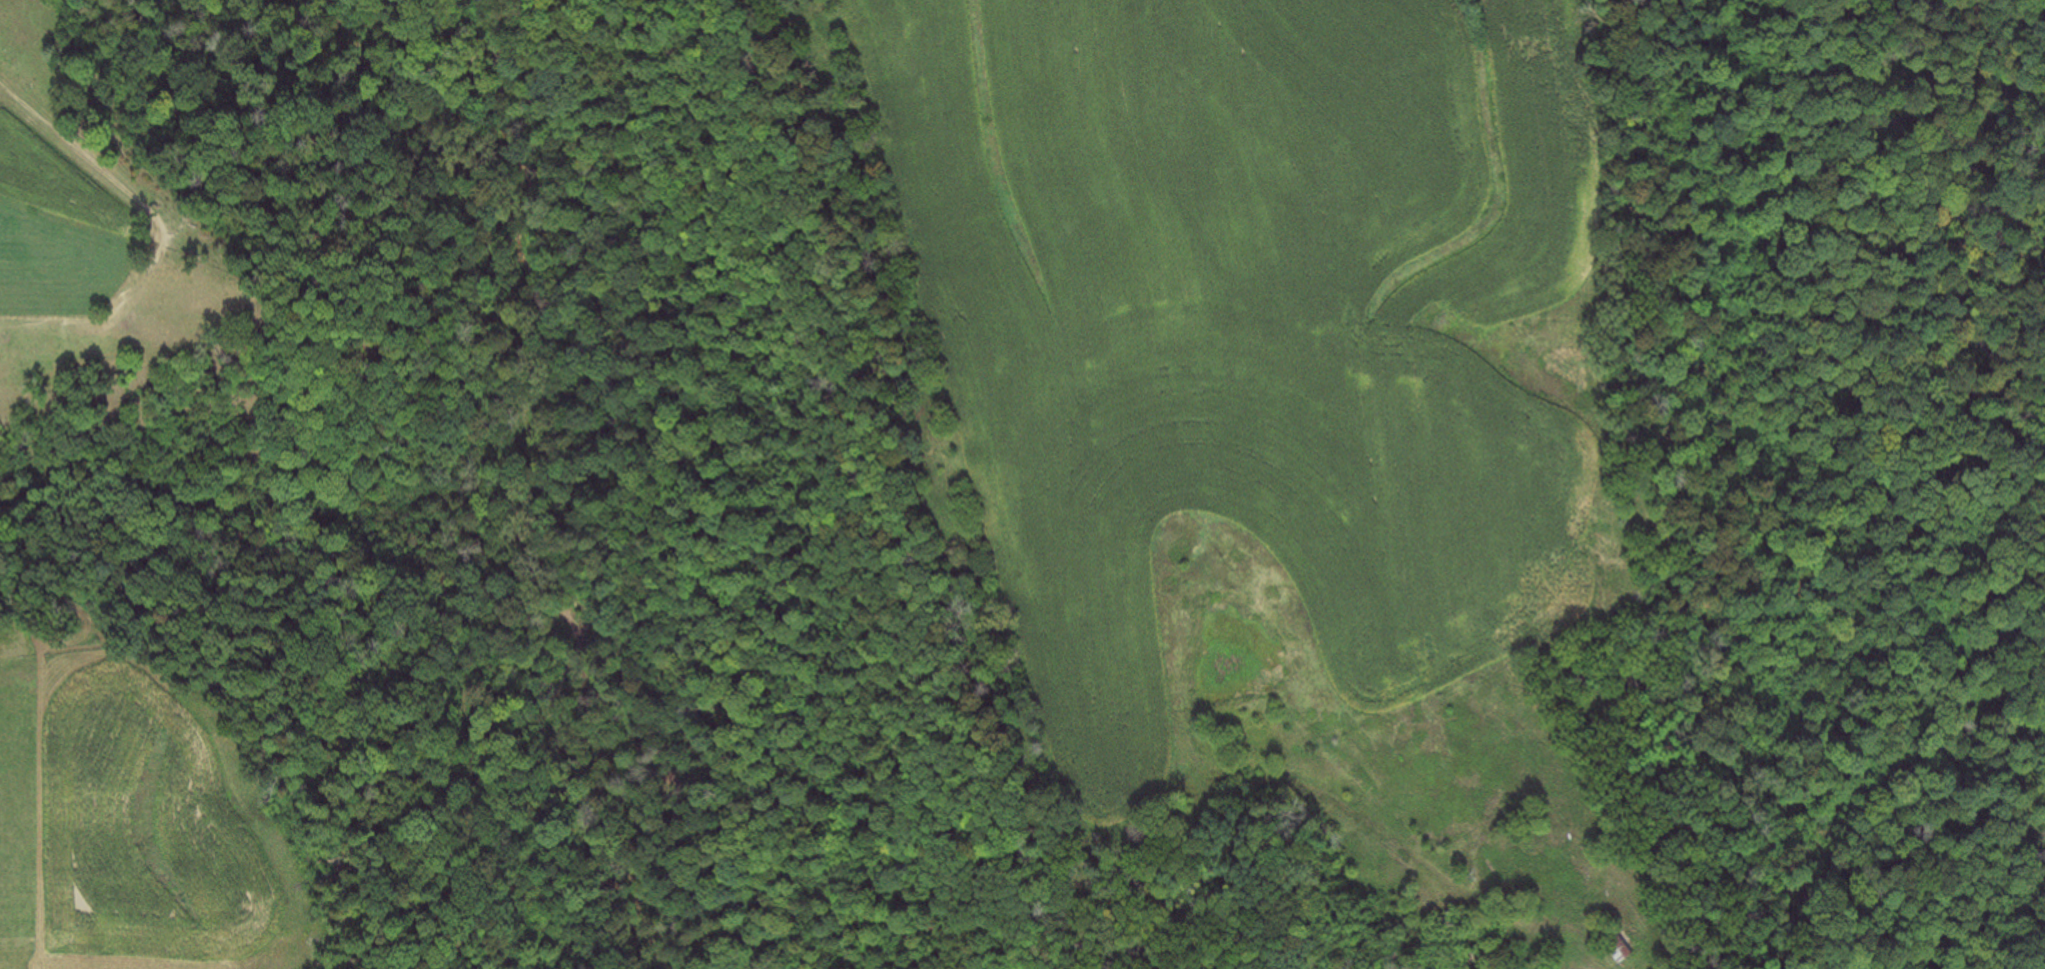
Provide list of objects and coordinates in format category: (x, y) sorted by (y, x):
park: (1999, 933)
building: (1614, 946)

